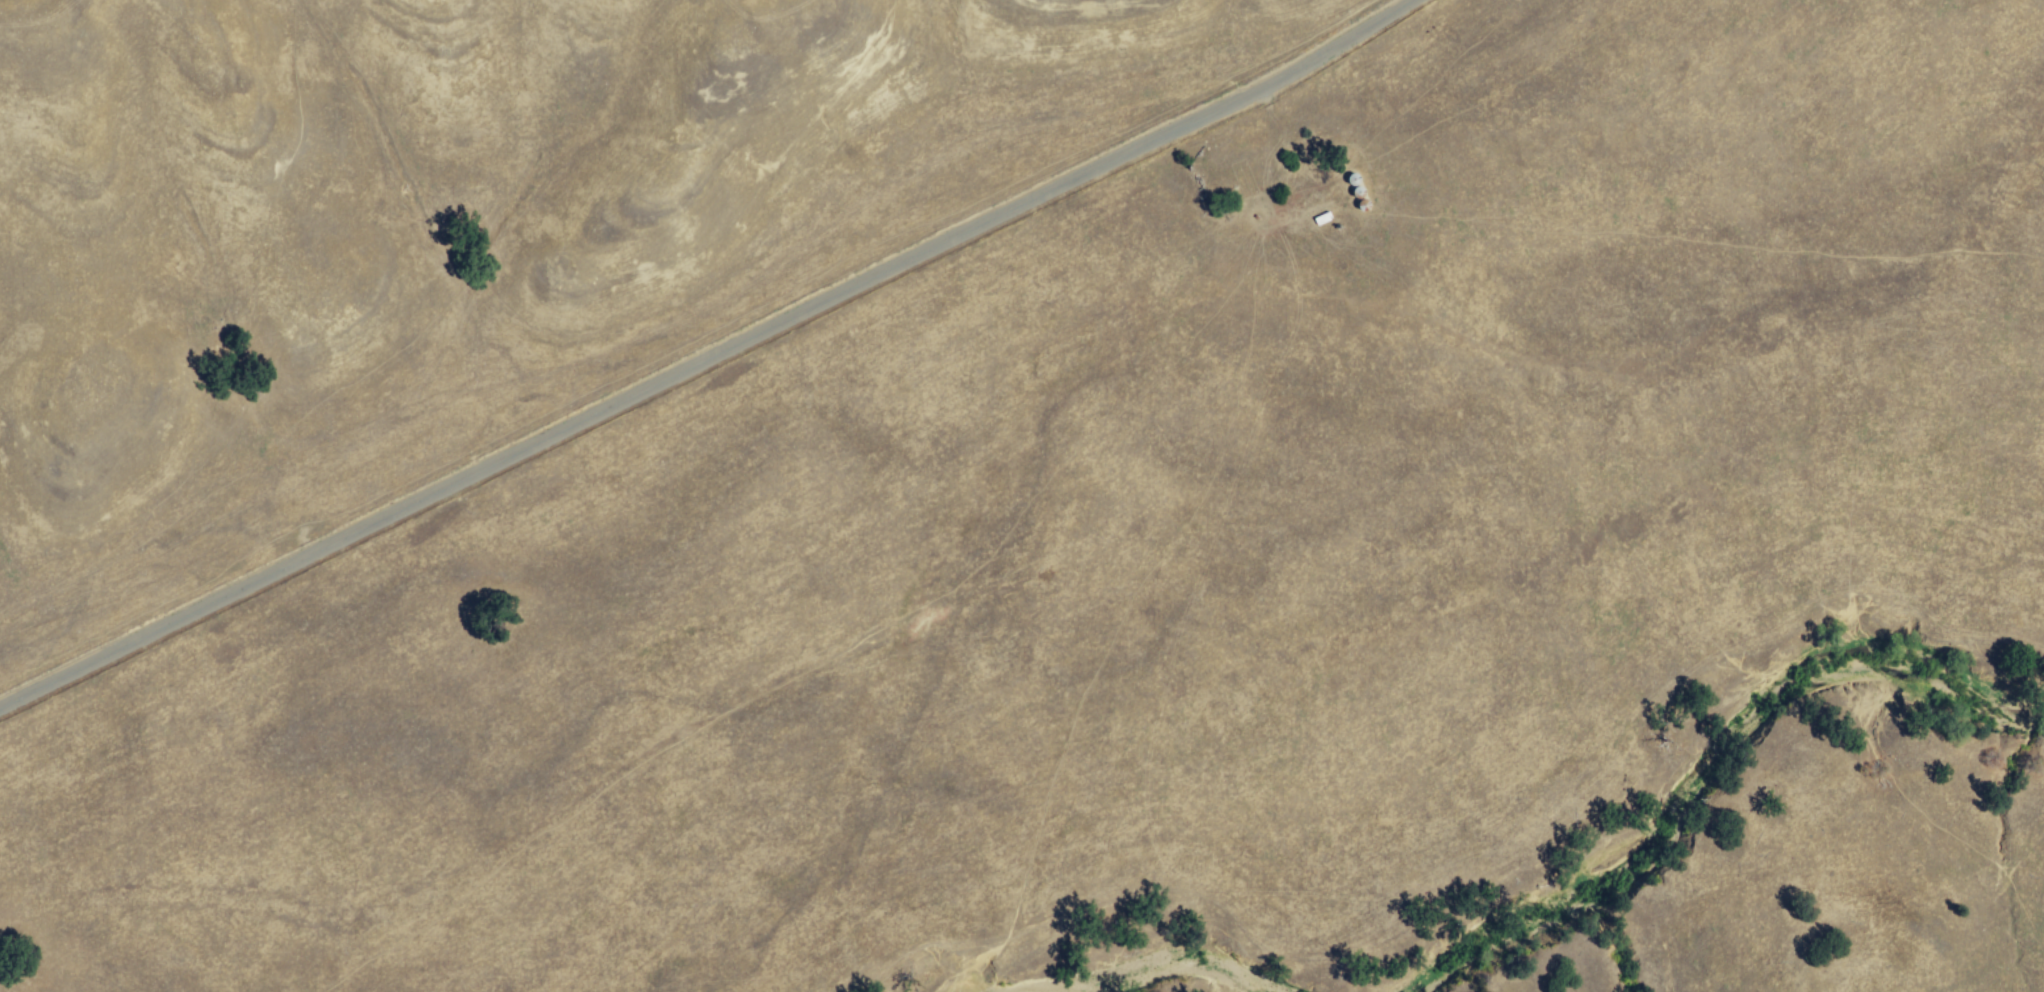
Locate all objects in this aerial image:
road: (707, 359)
river: (1713, 758)
river: (1151, 971)

